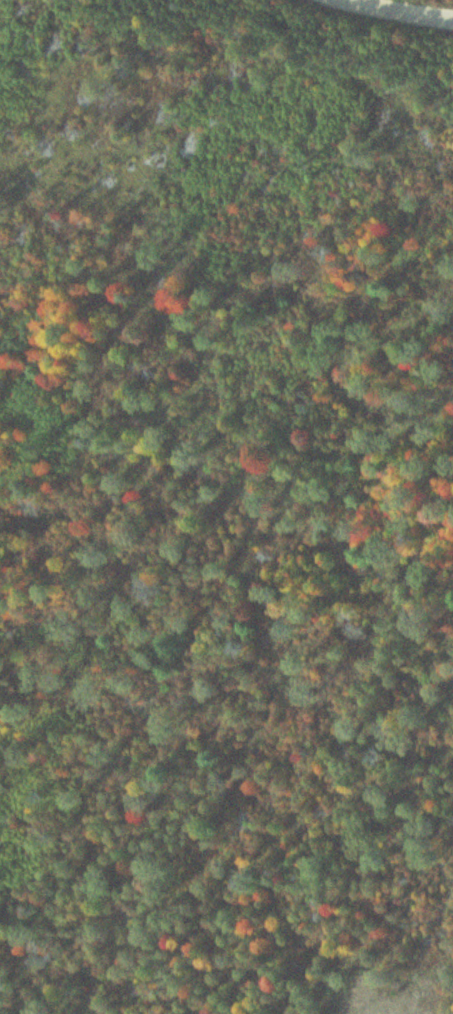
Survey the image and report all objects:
road: (395, 12)

